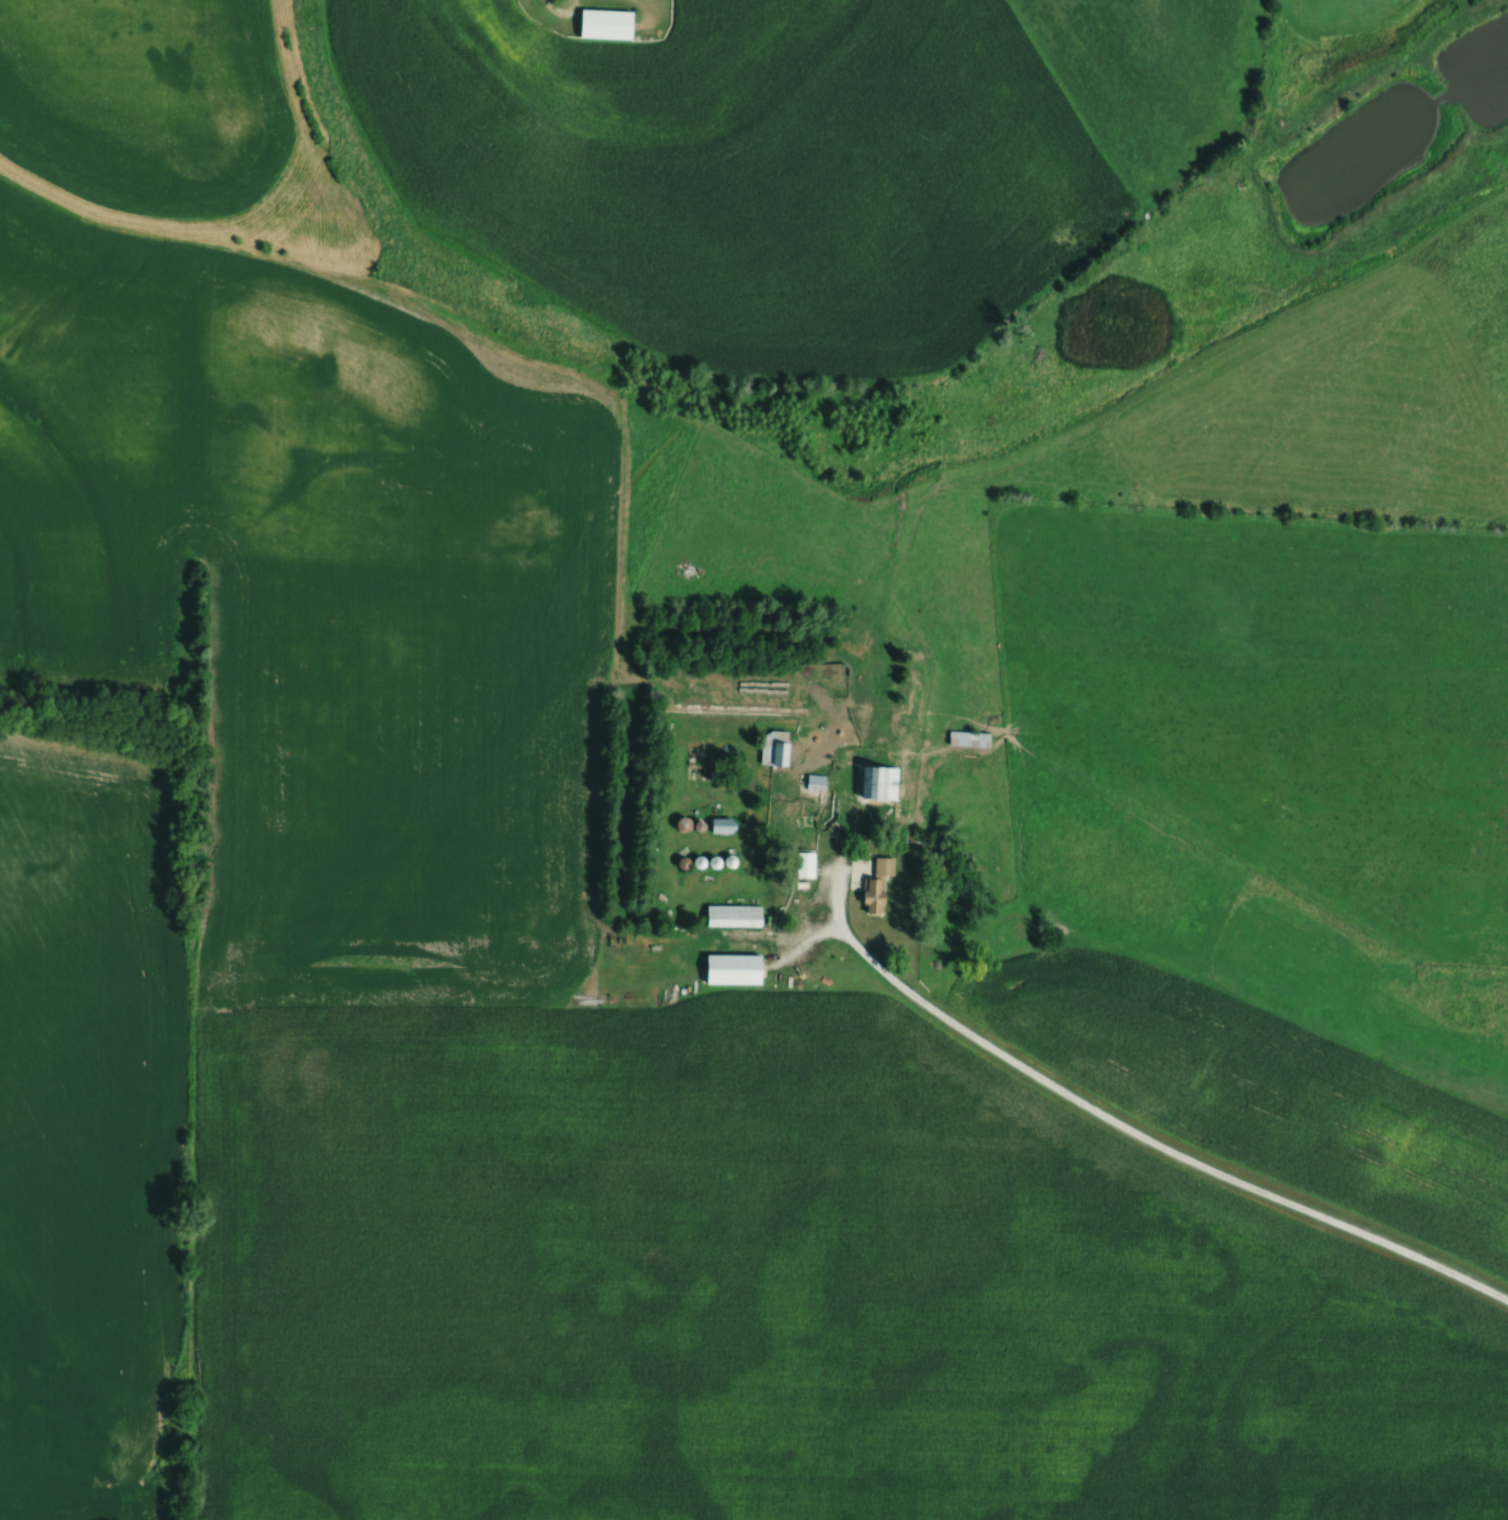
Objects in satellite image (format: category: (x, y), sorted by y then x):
road: (560, 14)
building: (610, 23)
building: (973, 736)
building: (778, 745)
building: (818, 780)
building: (883, 780)
building: (688, 822)
building: (725, 823)
building: (807, 862)
building: (882, 882)
building: (738, 913)
building: (738, 967)
road: (1134, 1132)

